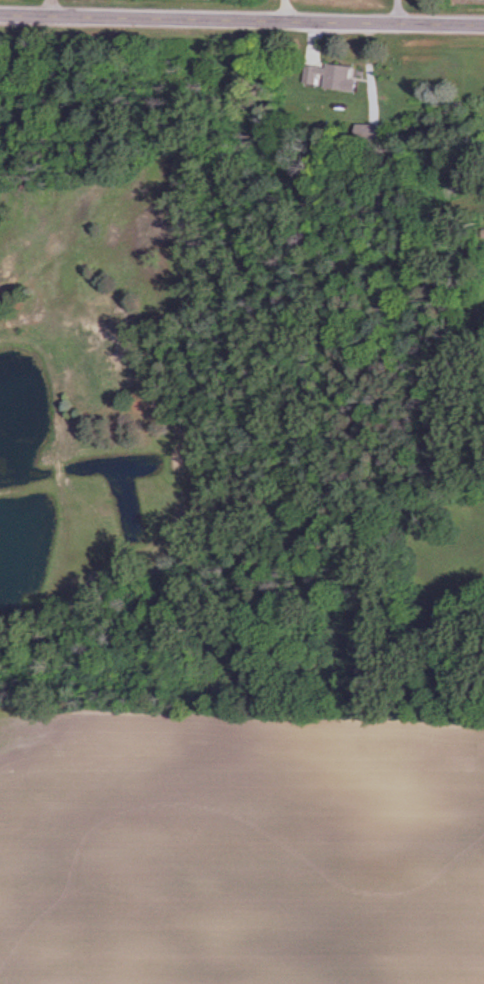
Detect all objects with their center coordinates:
crop: (473, 2)
road: (282, 10)
road: (242, 19)
building: (331, 76)
building: (372, 132)
crop: (241, 848)

